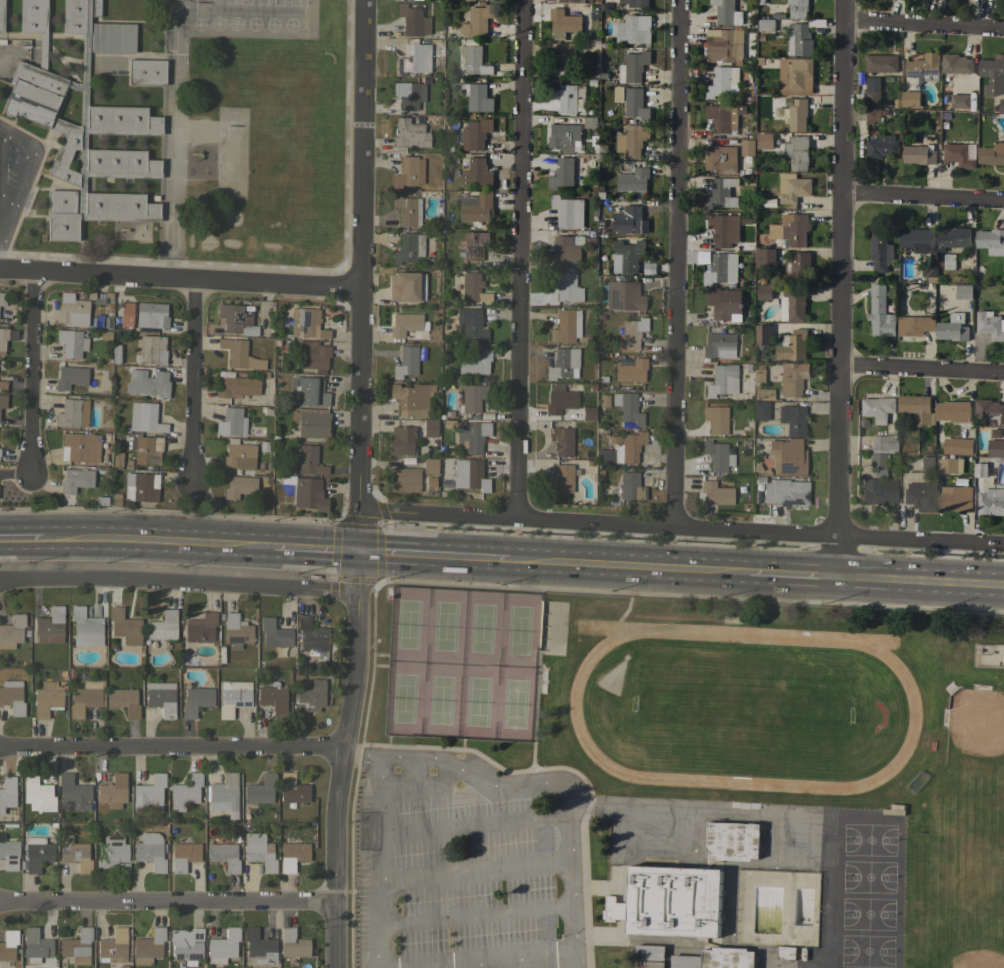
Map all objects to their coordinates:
building: (572, 1)
building: (636, 3)
building: (95, 8)
building: (798, 8)
building: (728, 11)
building: (1, 15)
building: (413, 20)
building: (478, 20)
road: (922, 22)
building: (564, 23)
building: (766, 25)
building: (634, 29)
building: (112, 37)
building: (802, 37)
building: (722, 46)
building: (591, 47)
building: (412, 57)
building: (564, 60)
building: (475, 61)
building: (882, 63)
building: (956, 64)
building: (633, 67)
building: (924, 67)
building: (146, 71)
building: (794, 73)
building: (993, 75)
building: (723, 82)
building: (873, 93)
building: (409, 94)
building: (565, 96)
building: (479, 98)
building: (911, 99)
building: (960, 101)
building: (636, 104)
building: (1001, 105)
building: (798, 115)
building: (873, 116)
building: (720, 118)
building: (590, 122)
building: (81, 127)
building: (409, 133)
building: (474, 134)
building: (564, 137)
road: (173, 140)
building: (632, 140)
building: (765, 141)
building: (747, 147)
building: (881, 148)
building: (797, 152)
building: (920, 154)
building: (961, 154)
building: (992, 154)
building: (721, 159)
building: (409, 172)
building: (476, 172)
building: (562, 173)
road: (22, 177)
building: (633, 180)
building: (792, 187)
building: (721, 195)
road: (921, 198)
building: (62, 200)
building: (477, 207)
building: (407, 209)
building: (568, 211)
building: (630, 220)
building: (724, 229)
building: (790, 229)
building: (955, 239)
building: (991, 241)
building: (474, 245)
building: (408, 247)
building: (921, 247)
building: (880, 250)
building: (564, 251)
building: (627, 256)
building: (704, 257)
road: (518, 258)
building: (764, 258)
building: (948, 261)
road: (675, 263)
building: (722, 269)
building: (797, 269)
road: (178, 280)
building: (405, 286)
building: (567, 286)
building: (473, 288)
road: (836, 290)
building: (964, 291)
building: (764, 293)
building: (623, 295)
building: (2, 298)
building: (724, 303)
building: (793, 306)
building: (72, 310)
building: (881, 313)
building: (126, 314)
building: (152, 314)
building: (237, 319)
building: (307, 323)
building: (472, 323)
building: (915, 325)
building: (990, 325)
building: (408, 326)
building: (566, 326)
building: (953, 328)
building: (632, 332)
building: (103, 335)
building: (763, 335)
building: (3, 339)
building: (71, 342)
building: (719, 344)
building: (793, 345)
building: (152, 349)
building: (116, 353)
building: (240, 354)
building: (312, 355)
building: (406, 362)
building: (475, 362)
building: (563, 363)
road: (919, 369)
building: (631, 370)
building: (769, 372)
road: (31, 374)
building: (70, 376)
building: (792, 378)
building: (722, 380)
building: (148, 382)
building: (2, 384)
road: (193, 385)
building: (236, 385)
building: (309, 391)
building: (763, 394)
building: (410, 397)
building: (472, 397)
building: (560, 399)
building: (3, 400)
building: (603, 401)
building: (627, 406)
building: (879, 409)
building: (916, 409)
building: (760, 410)
building: (953, 411)
building: (990, 412)
building: (72, 413)
building: (145, 417)
building: (716, 418)
building: (792, 420)
building: (231, 422)
building: (311, 422)
building: (430, 427)
building: (471, 435)
building: (402, 440)
building: (562, 440)
building: (883, 443)
building: (958, 446)
building: (80, 447)
building: (146, 448)
building: (995, 448)
building: (623, 449)
building: (239, 454)
building: (717, 455)
building: (787, 456)
building: (117, 458)
building: (310, 460)
building: (877, 460)
building: (924, 463)
building: (430, 465)
building: (951, 465)
building: (760, 470)
building: (981, 470)
building: (470, 474)
building: (562, 478)
building: (76, 479)
building: (404, 479)
road: (360, 484)
building: (141, 486)
building: (239, 486)
building: (631, 486)
building: (422, 488)
building: (879, 490)
building: (784, 491)
building: (306, 492)
building: (716, 493)
building: (920, 495)
building: (956, 498)
building: (114, 500)
building: (99, 501)
building: (991, 502)
road: (682, 526)
road: (21, 540)
road: (157, 542)
road: (316, 551)
road: (432, 558)
road: (626, 569)
road: (789, 578)
road: (178, 583)
road: (918, 586)
building: (163, 625)
building: (50, 626)
building: (125, 626)
building: (86, 627)
building: (199, 629)
building: (12, 630)
building: (237, 630)
building: (274, 633)
building: (312, 637)
building: (31, 638)
building: (194, 659)
building: (12, 696)
building: (86, 697)
building: (161, 697)
building: (234, 697)
building: (273, 698)
building: (309, 698)
building: (47, 699)
building: (124, 700)
building: (196, 700)
road: (169, 749)
building: (96, 775)
building: (916, 782)
building: (261, 789)
building: (292, 789)
building: (75, 791)
building: (113, 791)
building: (185, 791)
building: (7, 792)
building: (38, 793)
building: (149, 793)
building: (224, 794)
road: (569, 803)
building: (53, 824)
building: (244, 826)
building: (733, 841)
building: (150, 851)
building: (259, 851)
building: (37, 852)
building: (8, 853)
building: (75, 853)
building: (184, 854)
building: (224, 854)
building: (112, 855)
building: (292, 855)
road: (378, 861)
building: (22, 864)
road: (166, 902)
building: (670, 902)
building: (8, 943)
building: (293, 943)
building: (36, 945)
building: (186, 945)
building: (223, 945)
building: (77, 946)
building: (113, 946)
building: (149, 946)
building: (259, 946)
building: (650, 952)
building: (786, 953)
building: (727, 958)
building: (685, 961)
building: (180, 964)
building: (649, 964)

